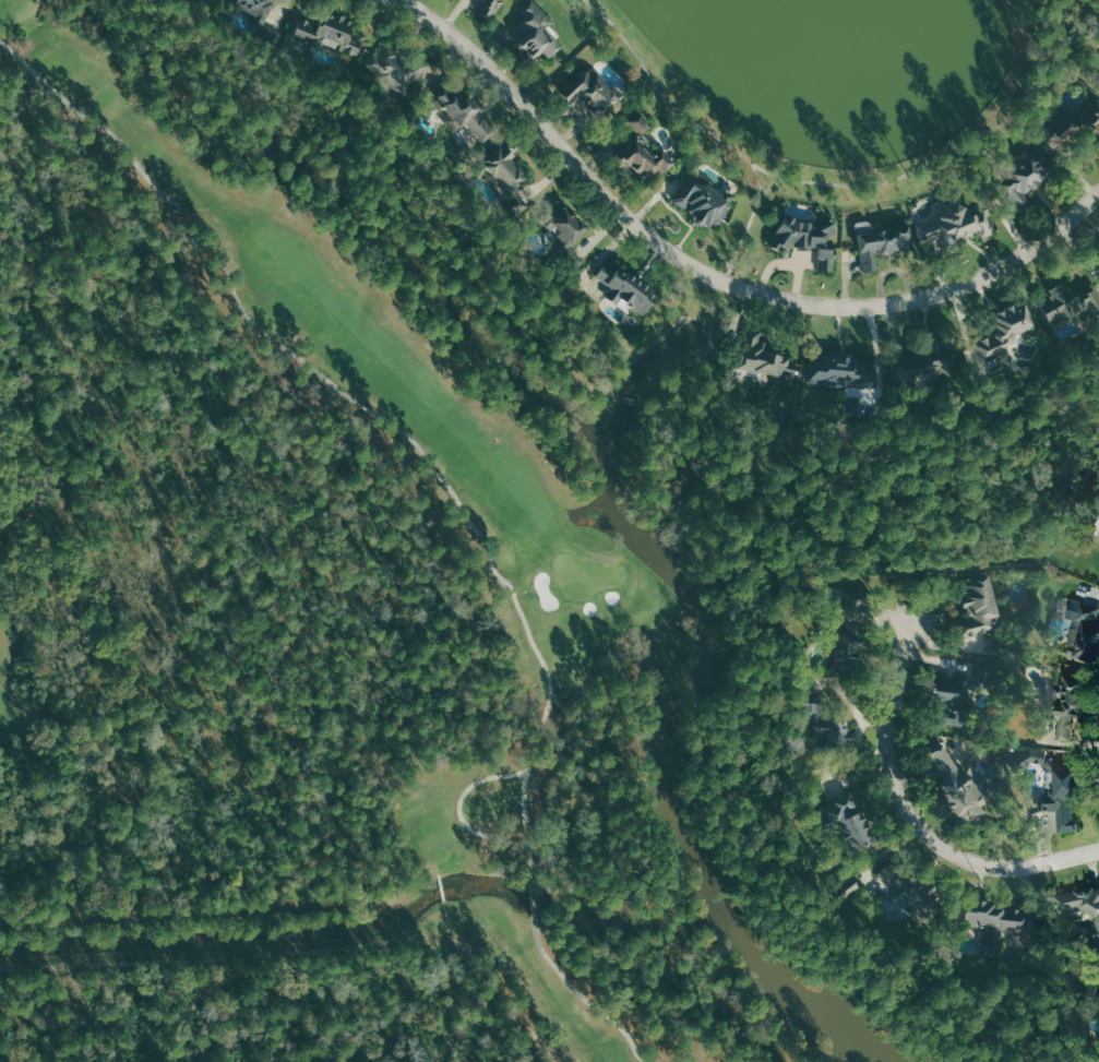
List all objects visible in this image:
building: (492, 8)
road: (1065, 10)
building: (254, 17)
building: (537, 31)
building: (327, 32)
building: (394, 67)
building: (589, 94)
building: (461, 110)
building: (1076, 128)
building: (645, 148)
building: (503, 166)
road: (390, 167)
road: (760, 178)
building: (1025, 180)
road: (832, 190)
building: (703, 201)
building: (562, 223)
building: (958, 225)
building: (809, 237)
building: (885, 243)
road: (715, 277)
building: (623, 286)
road: (731, 299)
building: (1068, 302)
building: (1007, 335)
building: (762, 355)
building: (930, 367)
building: (840, 370)
road: (634, 401)
road: (372, 409)
road: (860, 489)
park: (584, 575)
park: (284, 604)
building: (976, 608)
building: (848, 629)
building: (1085, 629)
building: (988, 675)
building: (954, 700)
building: (1074, 702)
building: (822, 727)
building: (959, 785)
building: (1067, 797)
road: (459, 808)
road: (916, 819)
building: (843, 820)
road: (775, 845)
road: (441, 884)
building: (906, 893)
road: (534, 894)
building: (1082, 906)
building: (988, 922)
road: (308, 950)
road: (583, 994)

